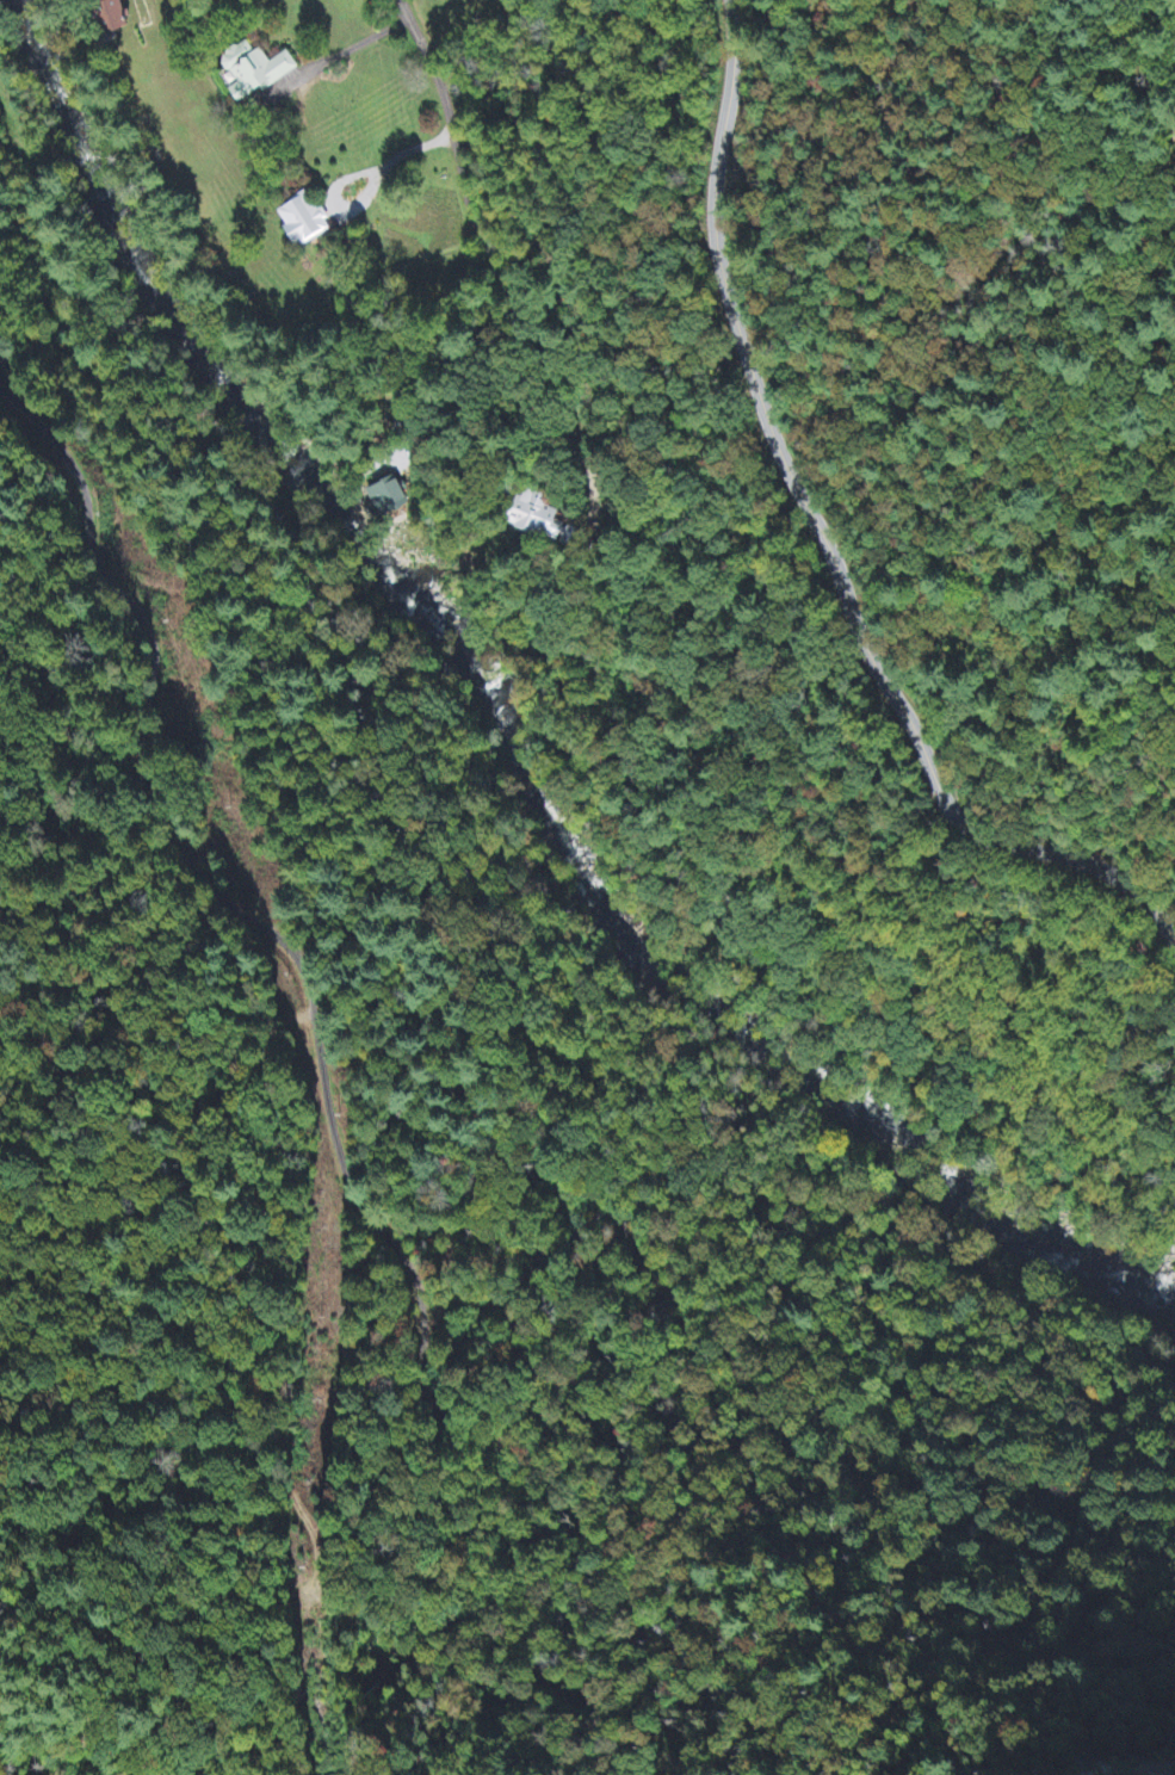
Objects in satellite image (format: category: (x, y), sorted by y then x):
building: (106, 17)
road: (357, 48)
building: (247, 72)
road: (395, 163)
road: (475, 214)
building: (304, 221)
building: (385, 487)
building: (536, 518)
river: (365, 530)
road: (824, 543)
river: (940, 1177)

